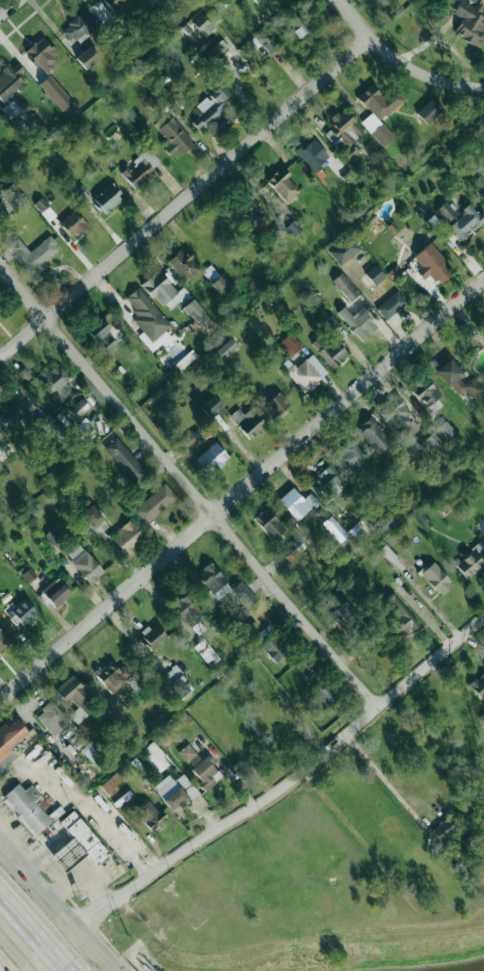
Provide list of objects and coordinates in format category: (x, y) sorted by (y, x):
building: (255, 1)
building: (380, 2)
building: (115, 4)
road: (10, 9)
building: (470, 22)
building: (203, 24)
building: (78, 27)
building: (293, 30)
building: (212, 50)
building: (43, 55)
building: (87, 57)
road: (401, 60)
building: (10, 81)
building: (58, 96)
building: (210, 108)
building: (11, 109)
building: (379, 111)
building: (429, 111)
building: (38, 129)
building: (344, 133)
building: (174, 137)
building: (312, 154)
building: (141, 168)
building: (283, 185)
building: (12, 196)
building: (107, 198)
road: (185, 198)
building: (42, 205)
building: (249, 210)
building: (1, 211)
building: (445, 212)
building: (466, 222)
building: (74, 225)
building: (293, 228)
building: (344, 250)
building: (34, 253)
building: (433, 264)
building: (184, 265)
building: (210, 273)
building: (374, 274)
building: (221, 286)
building: (345, 287)
building: (159, 288)
building: (391, 305)
building: (197, 313)
building: (148, 319)
building: (359, 323)
building: (101, 335)
building: (289, 344)
building: (224, 350)
building: (332, 353)
building: (184, 360)
building: (307, 373)
building: (457, 379)
building: (54, 381)
building: (483, 383)
building: (426, 394)
building: (276, 404)
building: (211, 406)
building: (79, 407)
building: (10, 416)
building: (398, 419)
building: (248, 422)
building: (445, 430)
building: (374, 435)
building: (188, 441)
building: (422, 443)
building: (122, 456)
building: (350, 457)
building: (212, 458)
building: (326, 484)
road: (190, 485)
road: (241, 491)
building: (154, 503)
building: (297, 503)
building: (93, 520)
building: (269, 524)
building: (334, 528)
building: (127, 537)
building: (293, 549)
building: (471, 561)
building: (84, 563)
building: (436, 578)
building: (224, 588)
building: (55, 591)
road: (431, 602)
building: (23, 611)
building: (189, 613)
building: (346, 615)
building: (396, 616)
building: (152, 636)
building: (274, 649)
building: (206, 651)
building: (306, 668)
building: (112, 676)
building: (176, 682)
building: (478, 685)
building: (73, 691)
building: (325, 695)
building: (52, 718)
building: (88, 727)
building: (9, 741)
building: (91, 754)
building: (155, 757)
building: (199, 765)
road: (227, 770)
road: (287, 779)
road: (386, 782)
building: (173, 790)
building: (28, 807)
building: (149, 815)
building: (455, 823)
building: (470, 838)
building: (77, 844)
road: (335, 851)
road: (56, 900)
road: (30, 937)
road: (13, 954)
road: (112, 970)

